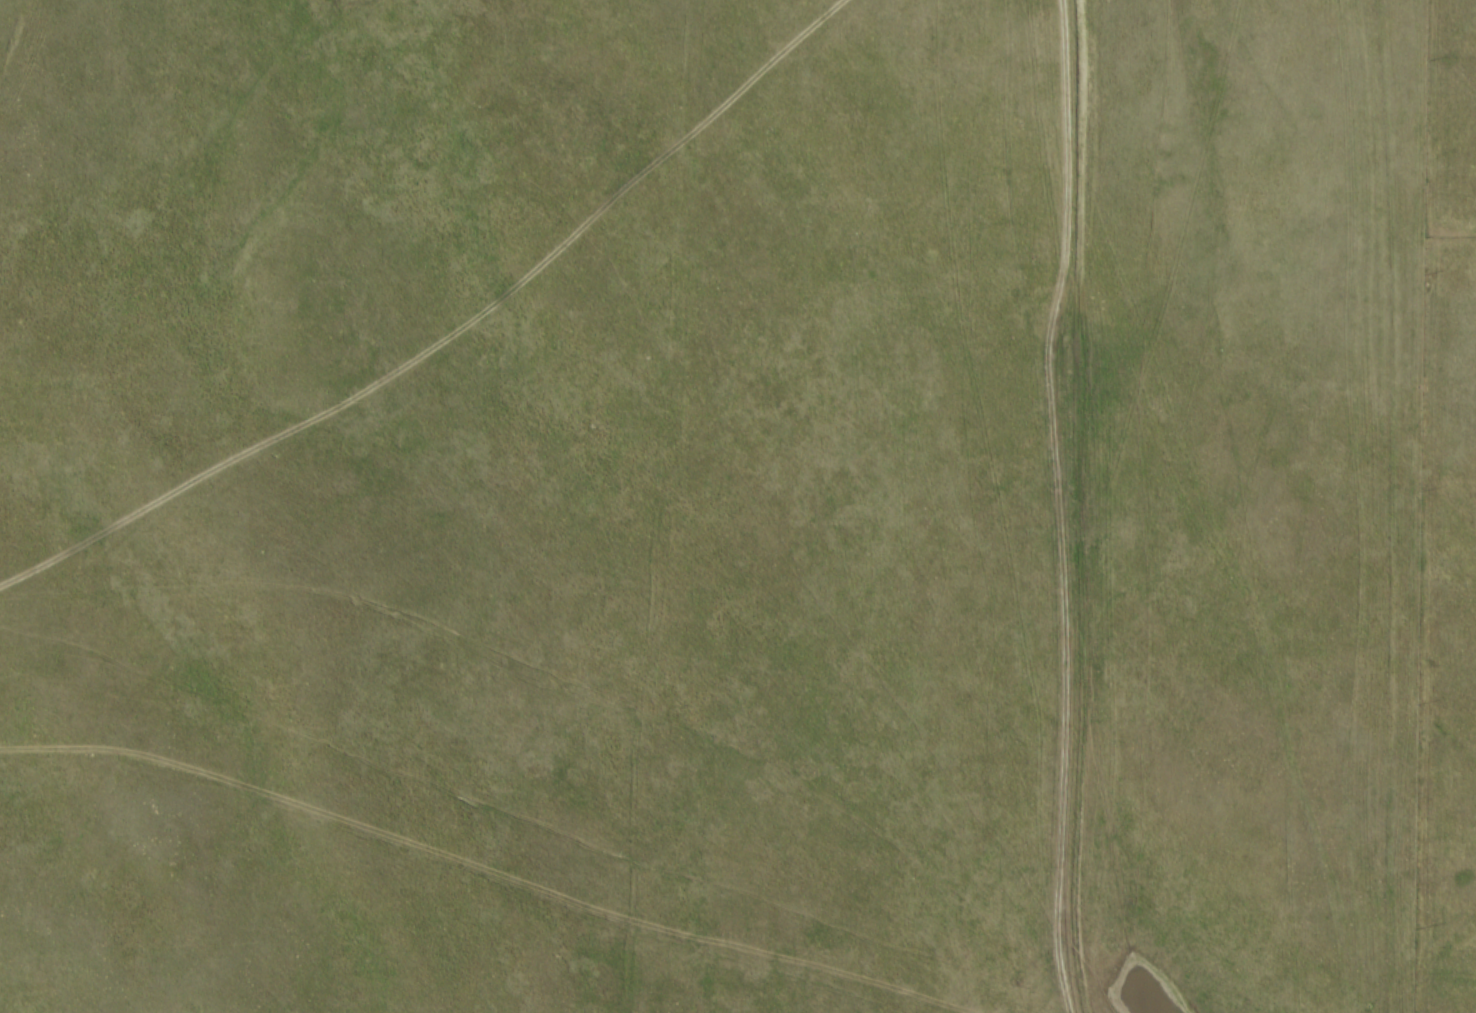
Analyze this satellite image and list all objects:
road: (1092, 166)
road: (1064, 506)

